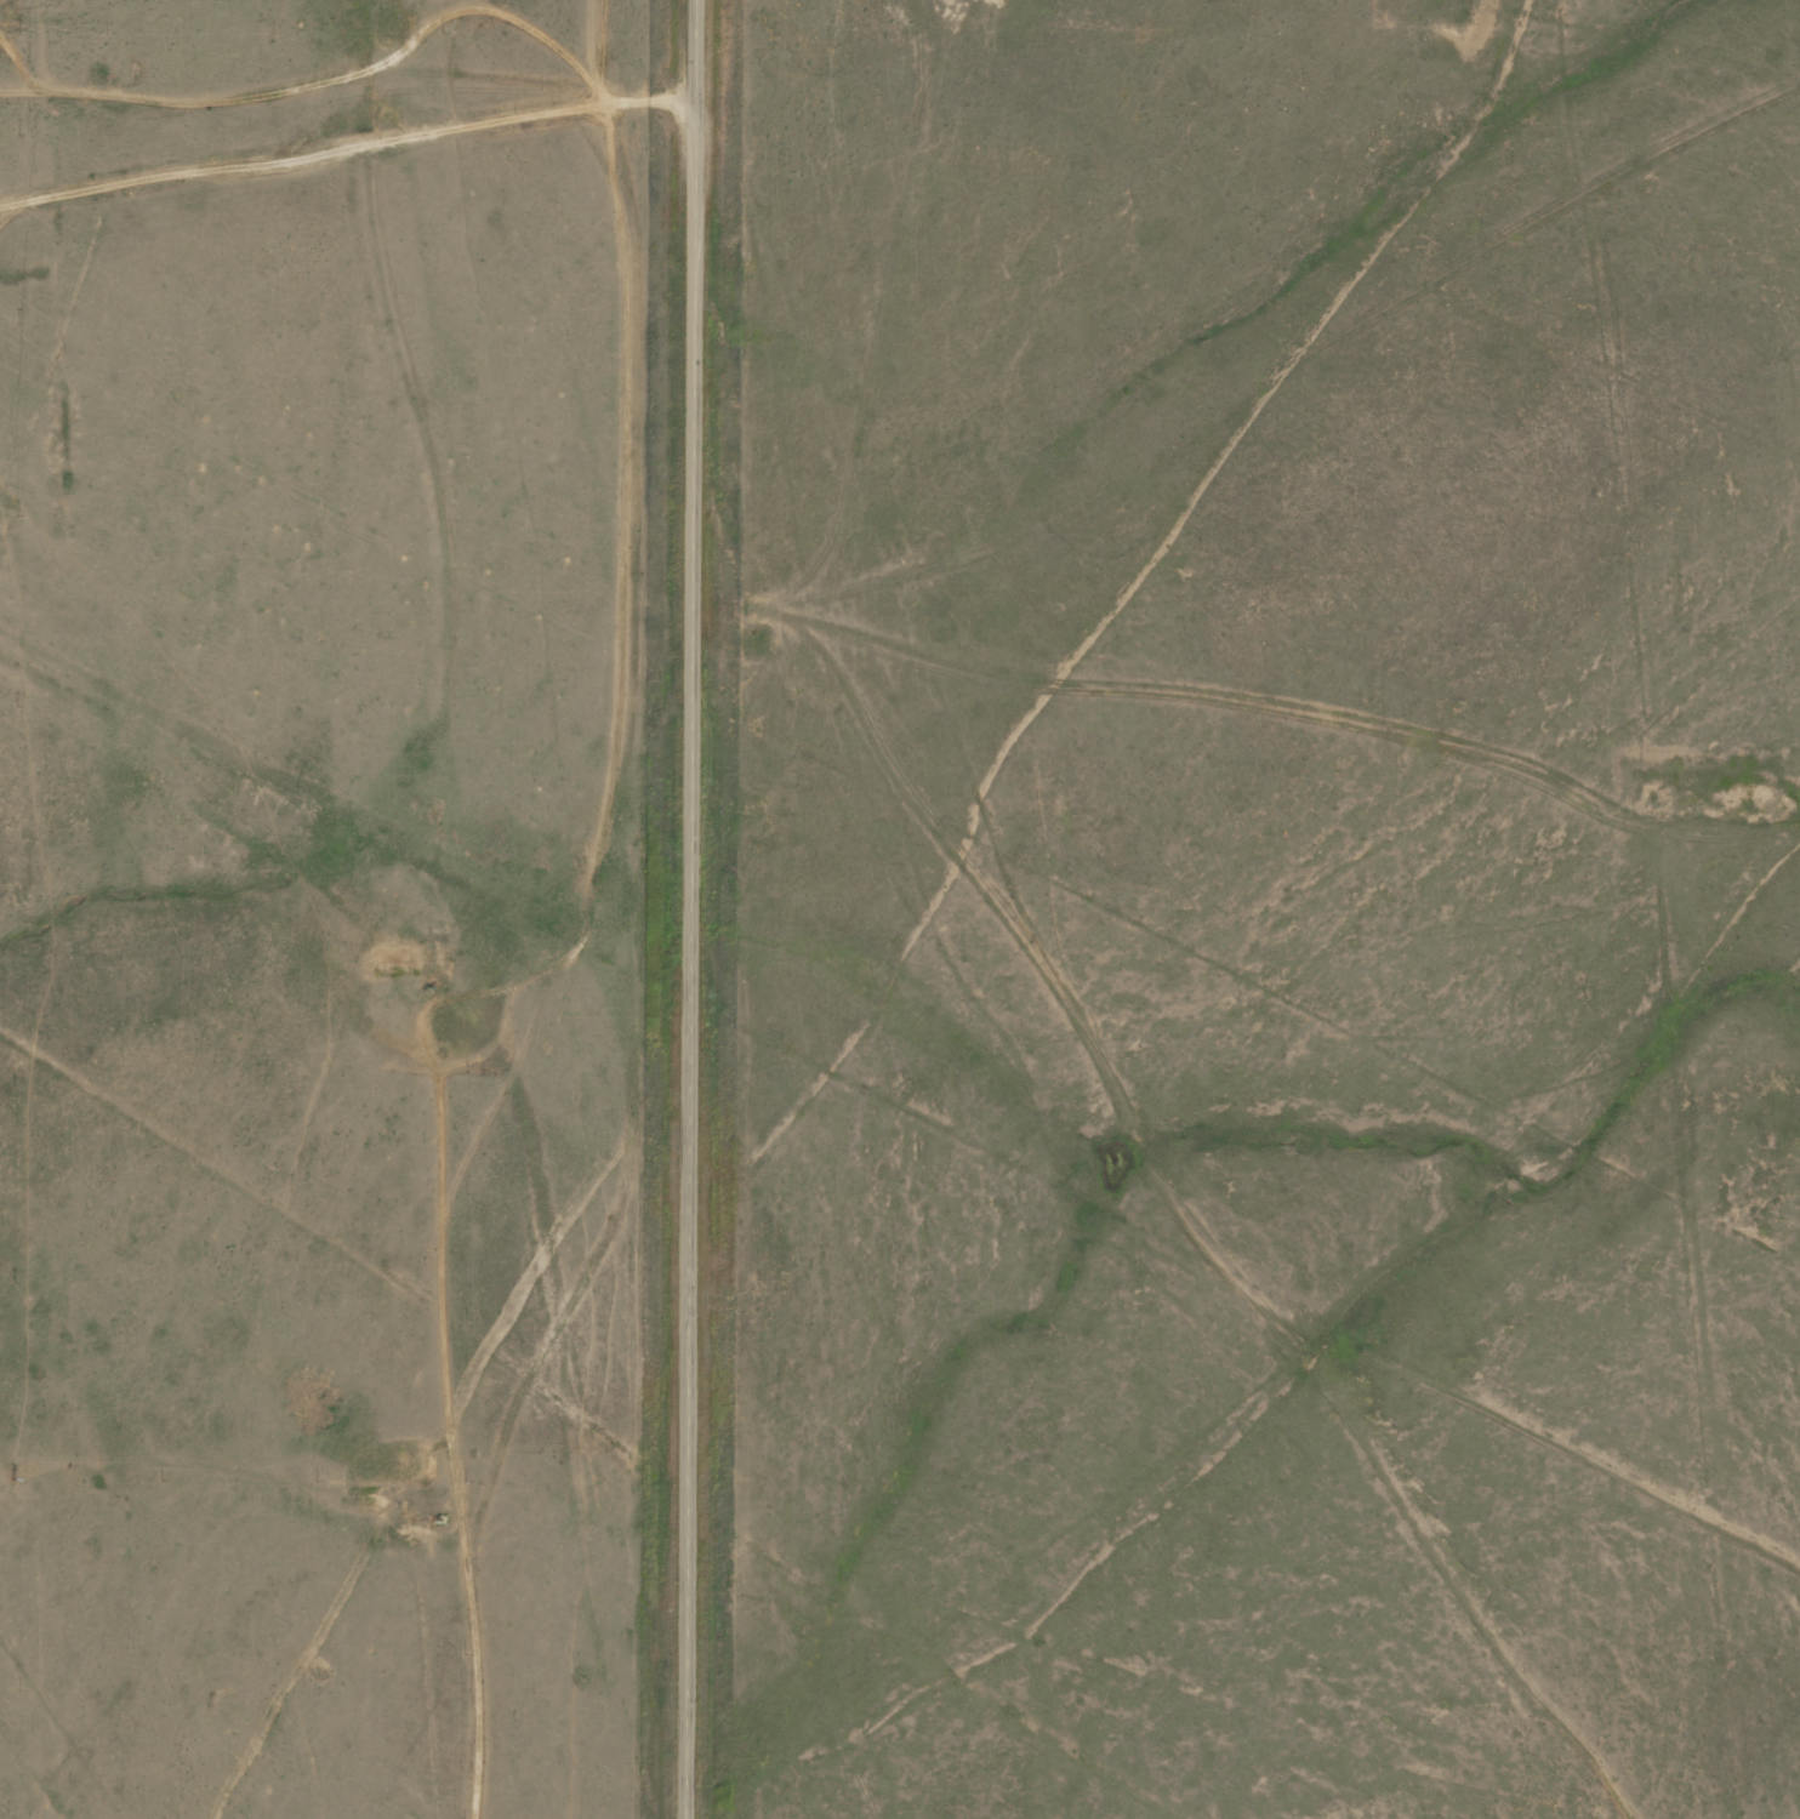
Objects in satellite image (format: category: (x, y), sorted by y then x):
road: (648, 165)
road: (388, 210)
road: (13, 313)
road: (694, 909)

